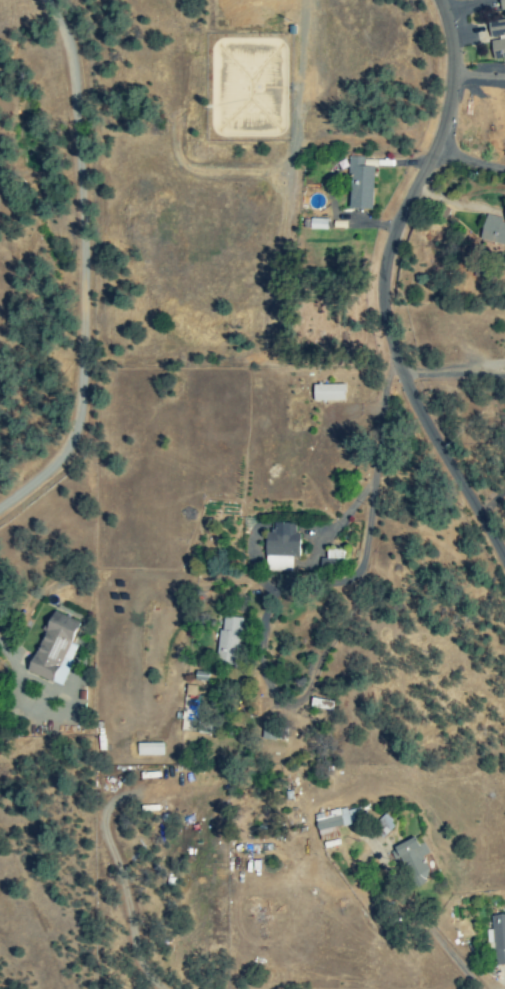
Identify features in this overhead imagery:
building: (501, 5)
building: (496, 39)
road: (469, 160)
road: (199, 163)
building: (359, 185)
building: (493, 231)
road: (73, 266)
road: (384, 286)
road: (453, 364)
road: (453, 375)
building: (327, 393)
road: (385, 435)
road: (365, 525)
building: (280, 548)
building: (227, 641)
building: (54, 650)
road: (268, 681)
building: (189, 692)
building: (284, 733)
building: (148, 750)
building: (335, 822)
building: (382, 826)
building: (412, 862)
building: (498, 940)

